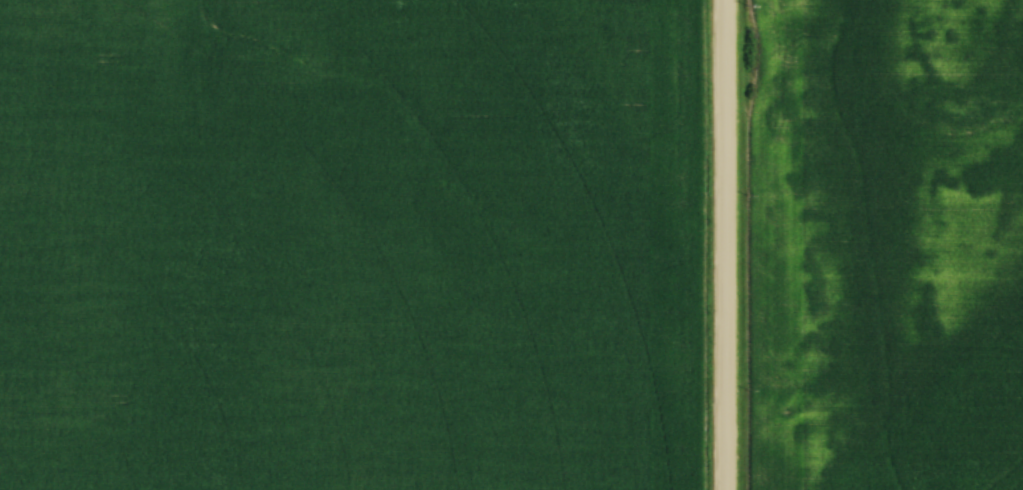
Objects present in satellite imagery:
road: (724, 245)

